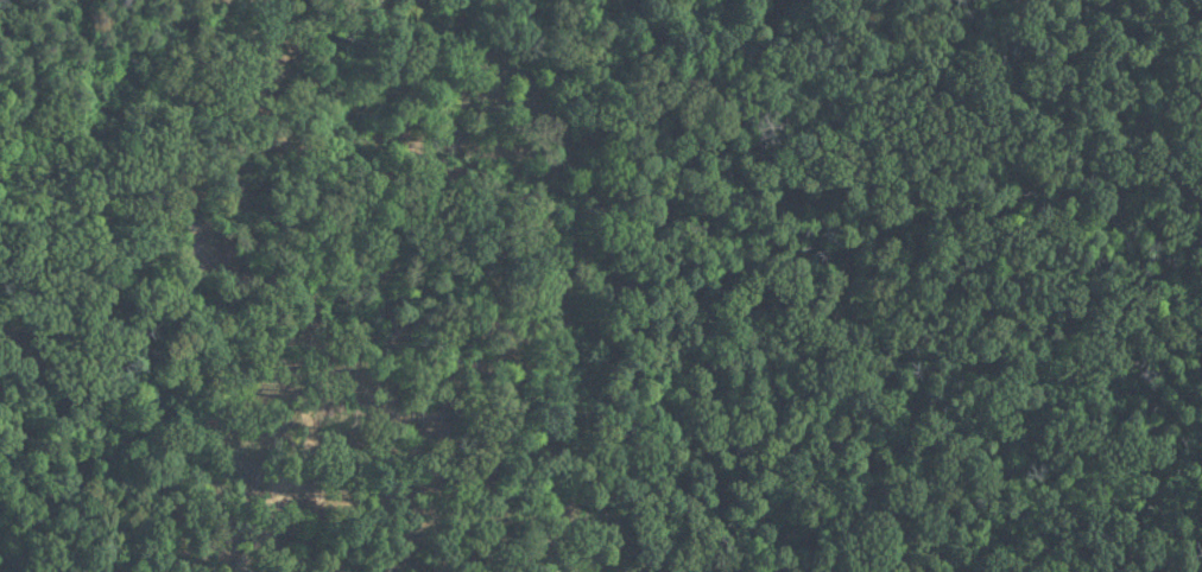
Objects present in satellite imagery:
road: (37, 44)
road: (906, 171)

